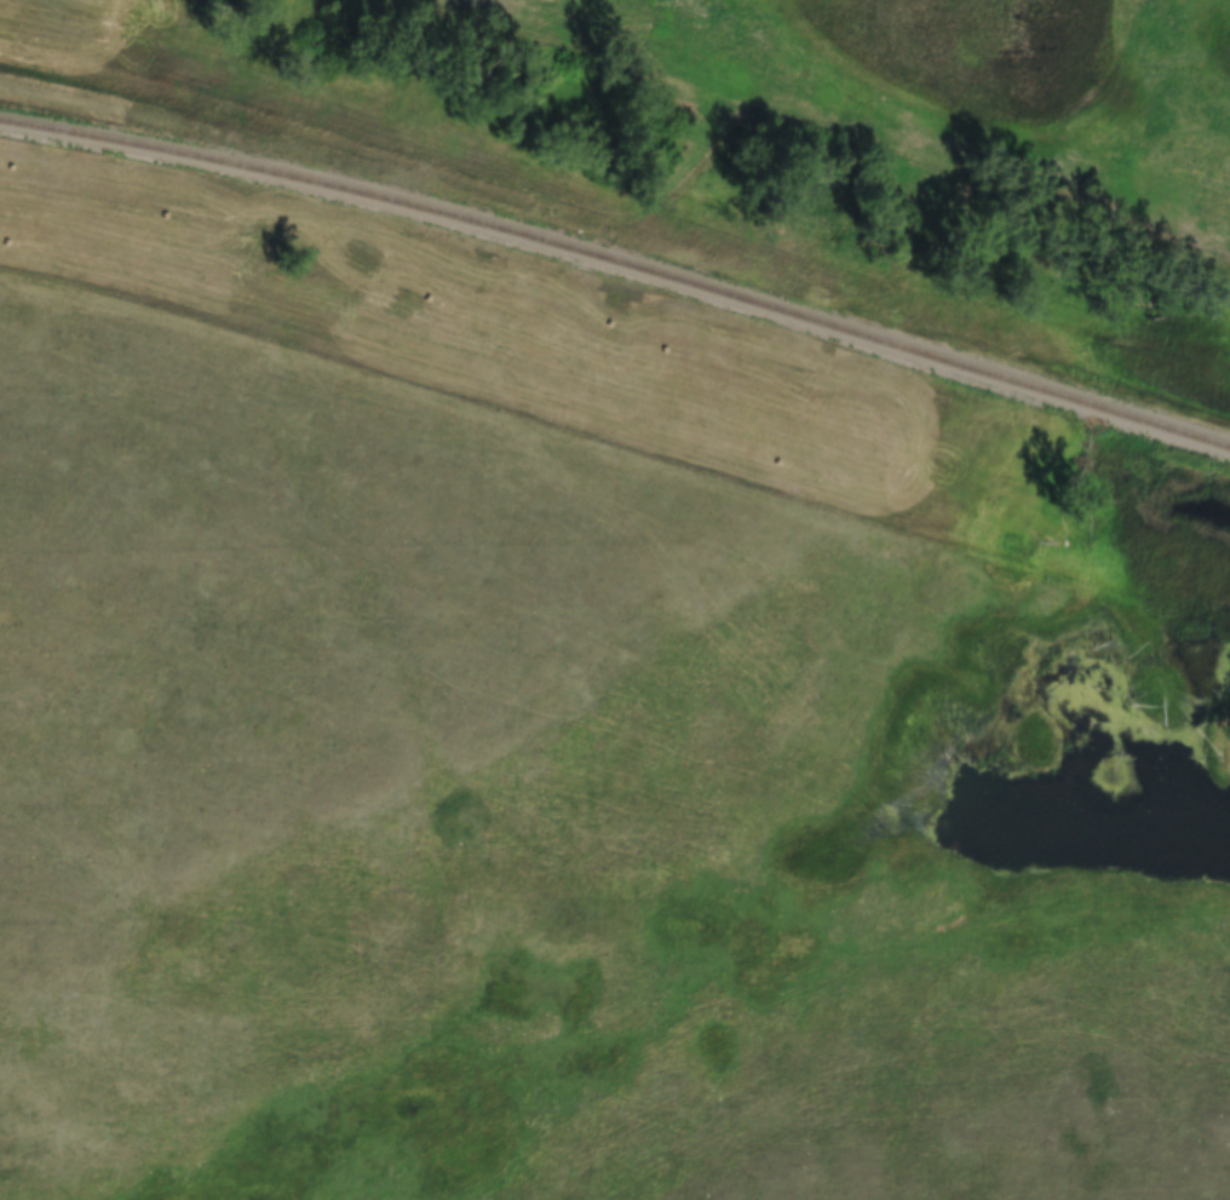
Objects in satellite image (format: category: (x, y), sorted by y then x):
railway: (620, 232)

